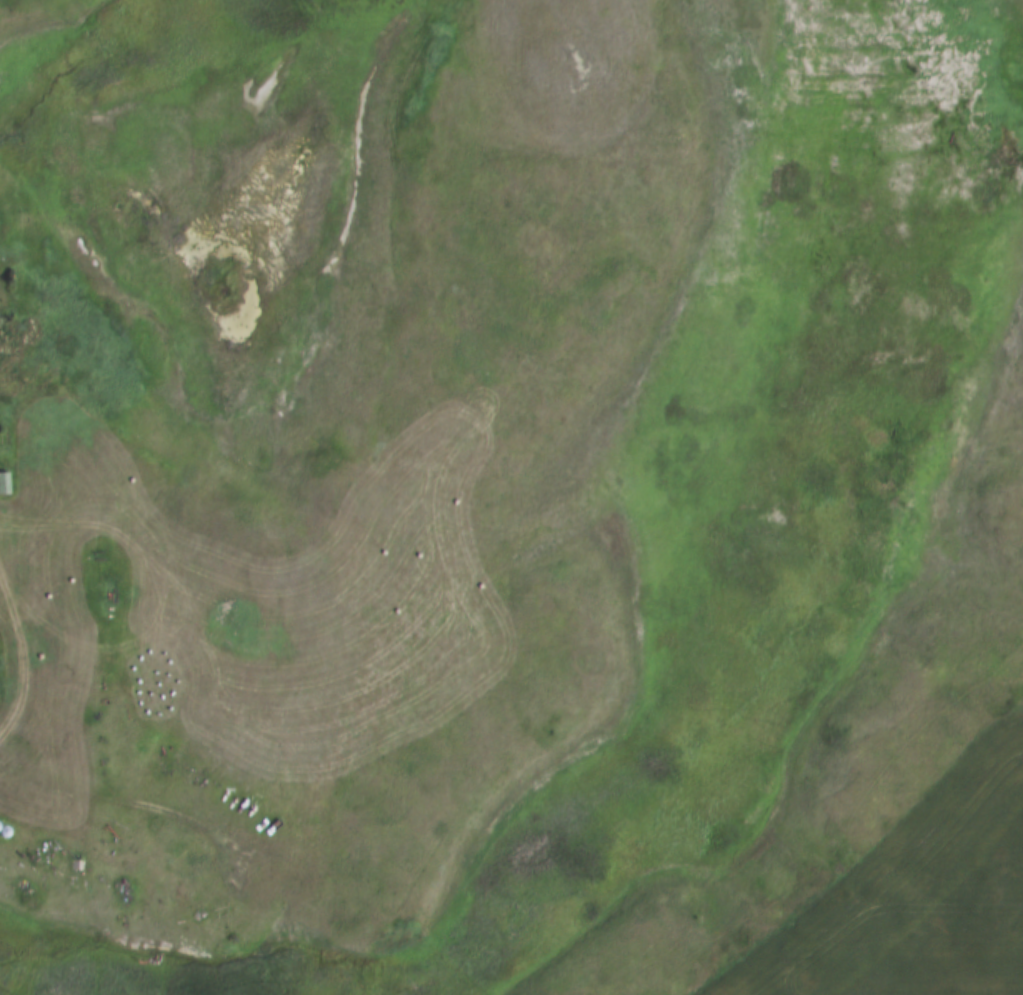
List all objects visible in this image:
building: (5, 335)
building: (4, 483)
building: (3, 832)

